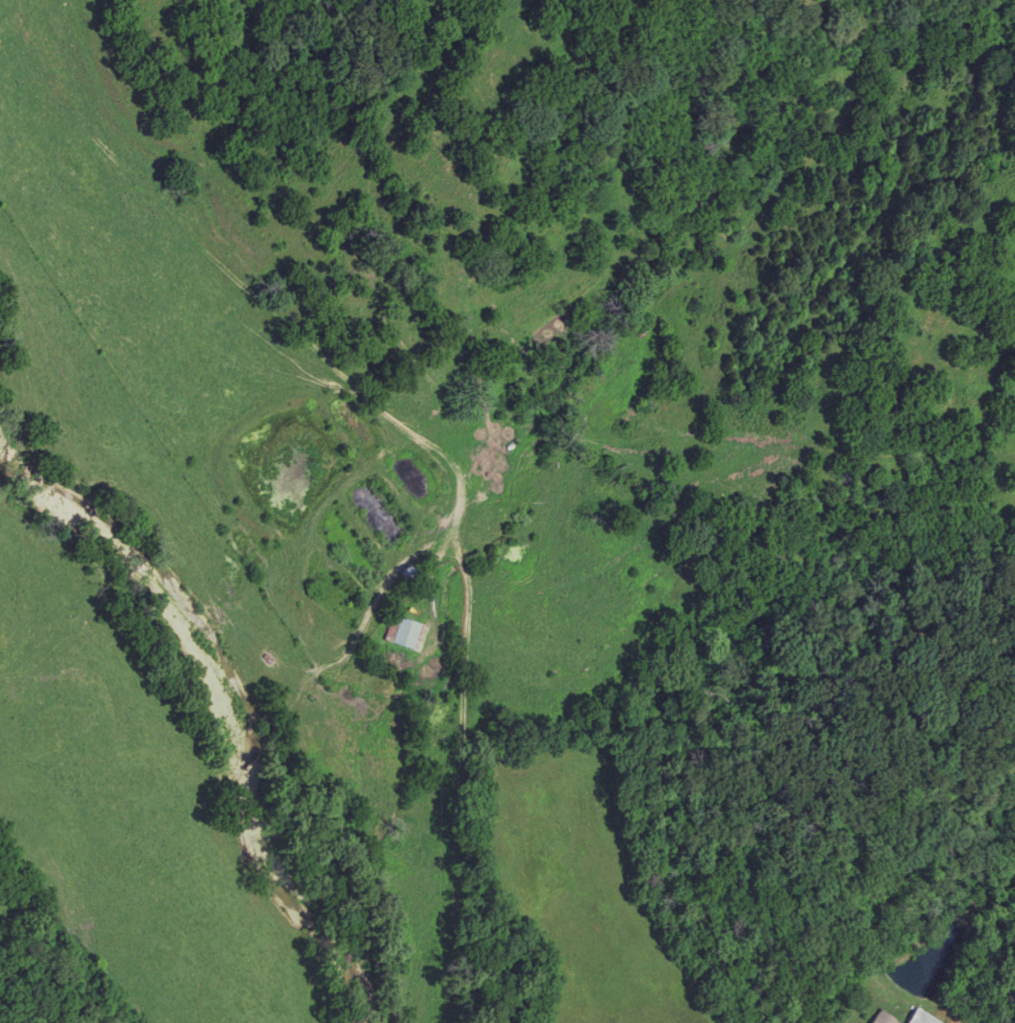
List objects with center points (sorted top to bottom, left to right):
building: (402, 632)
road: (460, 790)
building: (882, 1017)
building: (922, 1017)

